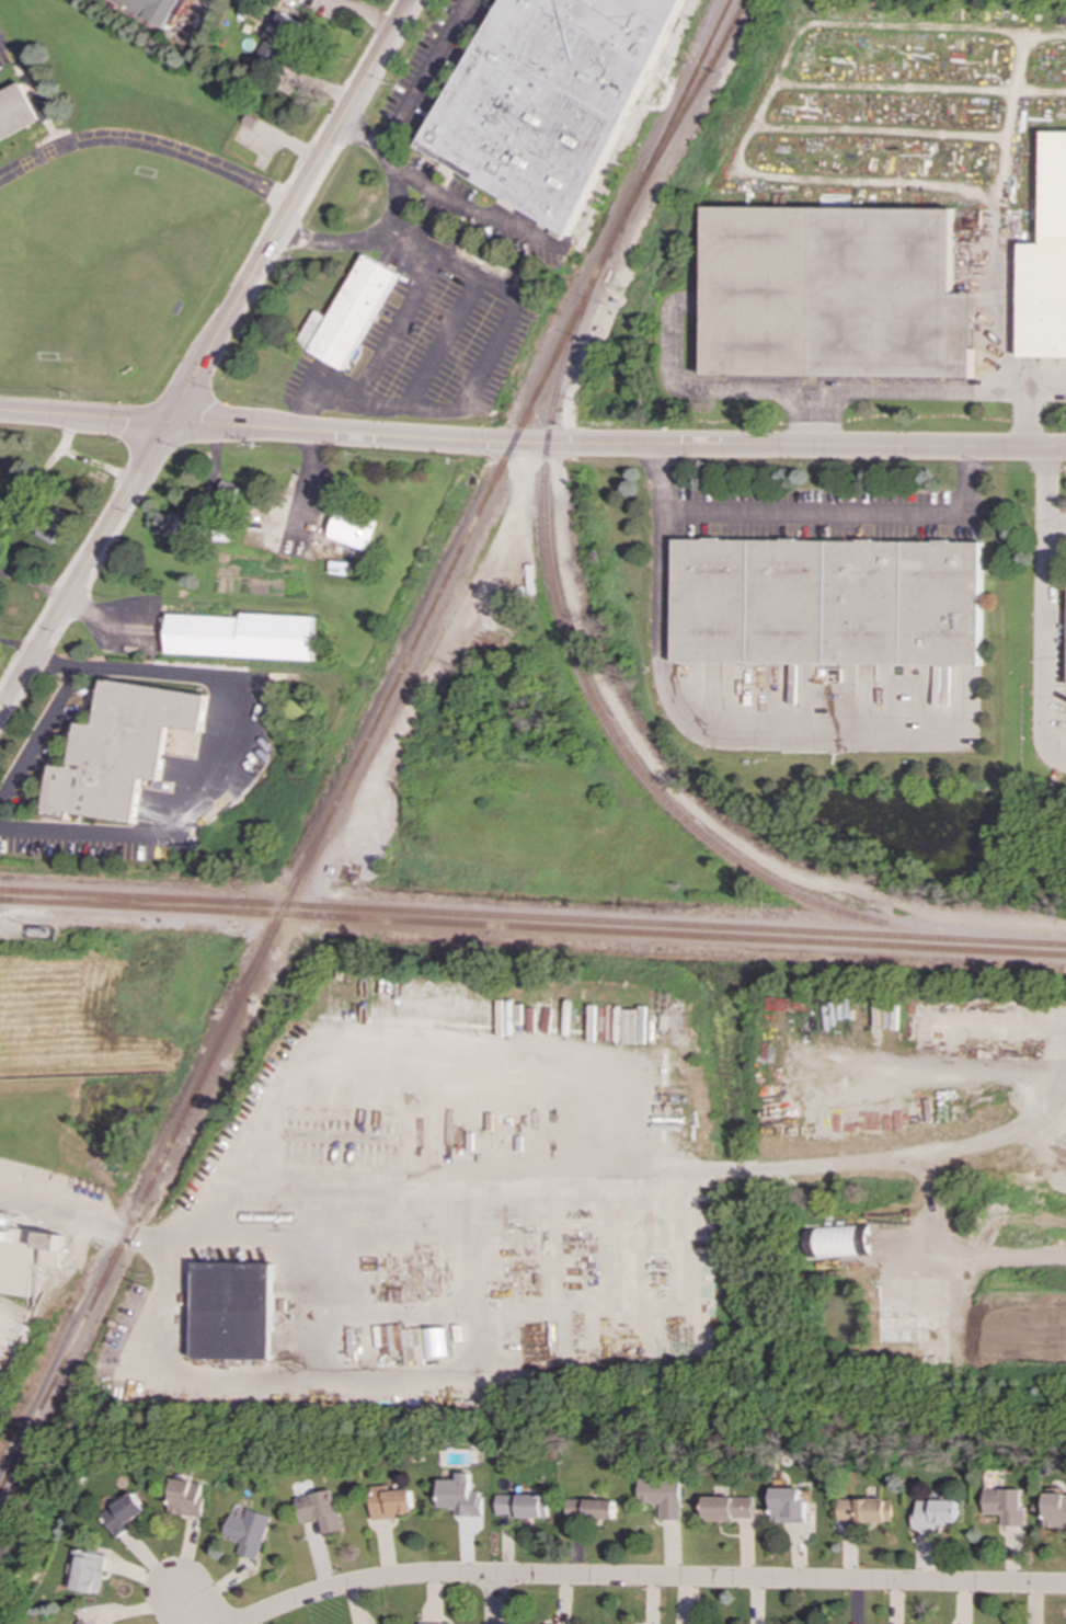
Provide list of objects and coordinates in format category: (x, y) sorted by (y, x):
building: (158, 9)
road: (366, 15)
road: (880, 25)
road: (1040, 36)
road: (918, 88)
road: (412, 90)
building: (549, 99)
building: (41, 107)
building: (16, 113)
railway: (673, 113)
railway: (681, 114)
road: (876, 131)
road: (148, 144)
road: (469, 209)
road: (382, 236)
building: (1045, 262)
building: (832, 294)
building: (347, 314)
road: (393, 325)
road: (206, 355)
road: (478, 380)
road: (731, 389)
road: (940, 392)
road: (1043, 394)
road: (532, 448)
road: (306, 489)
building: (227, 494)
road: (812, 516)
road: (1055, 521)
building: (49, 524)
building: (177, 526)
building: (349, 531)
building: (826, 602)
road: (1044, 607)
building: (241, 637)
road: (713, 730)
road: (39, 734)
road: (216, 745)
building: (121, 750)
railway: (309, 858)
railway: (122, 896)
railway: (122, 901)
railway: (654, 924)
railway: (532, 927)
building: (838, 1240)
road: (172, 1243)
building: (27, 1259)
building: (236, 1312)
building: (401, 1339)
building: (436, 1343)
building: (461, 1496)
building: (663, 1497)
building: (187, 1498)
building: (391, 1502)
building: (1006, 1505)
building: (523, 1506)
building: (789, 1506)
building: (592, 1509)
building: (730, 1509)
building: (320, 1510)
building: (866, 1510)
building: (1055, 1511)
building: (125, 1513)
building: (936, 1513)
building: (249, 1532)
building: (87, 1571)
road: (651, 1579)
road: (494, 1600)
road: (185, 1608)
building: (84, 1622)

